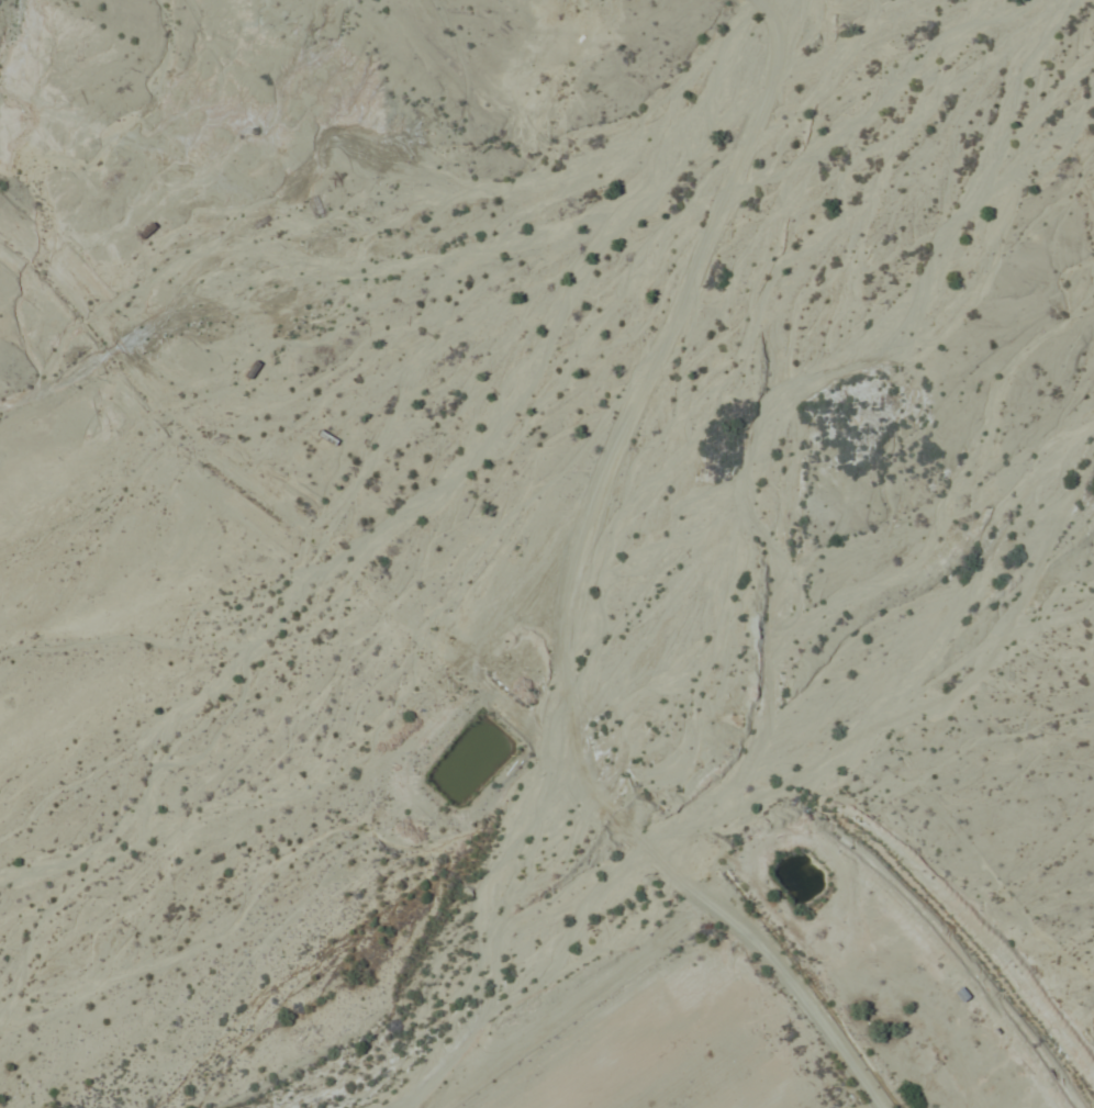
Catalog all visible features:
road: (339, 585)

